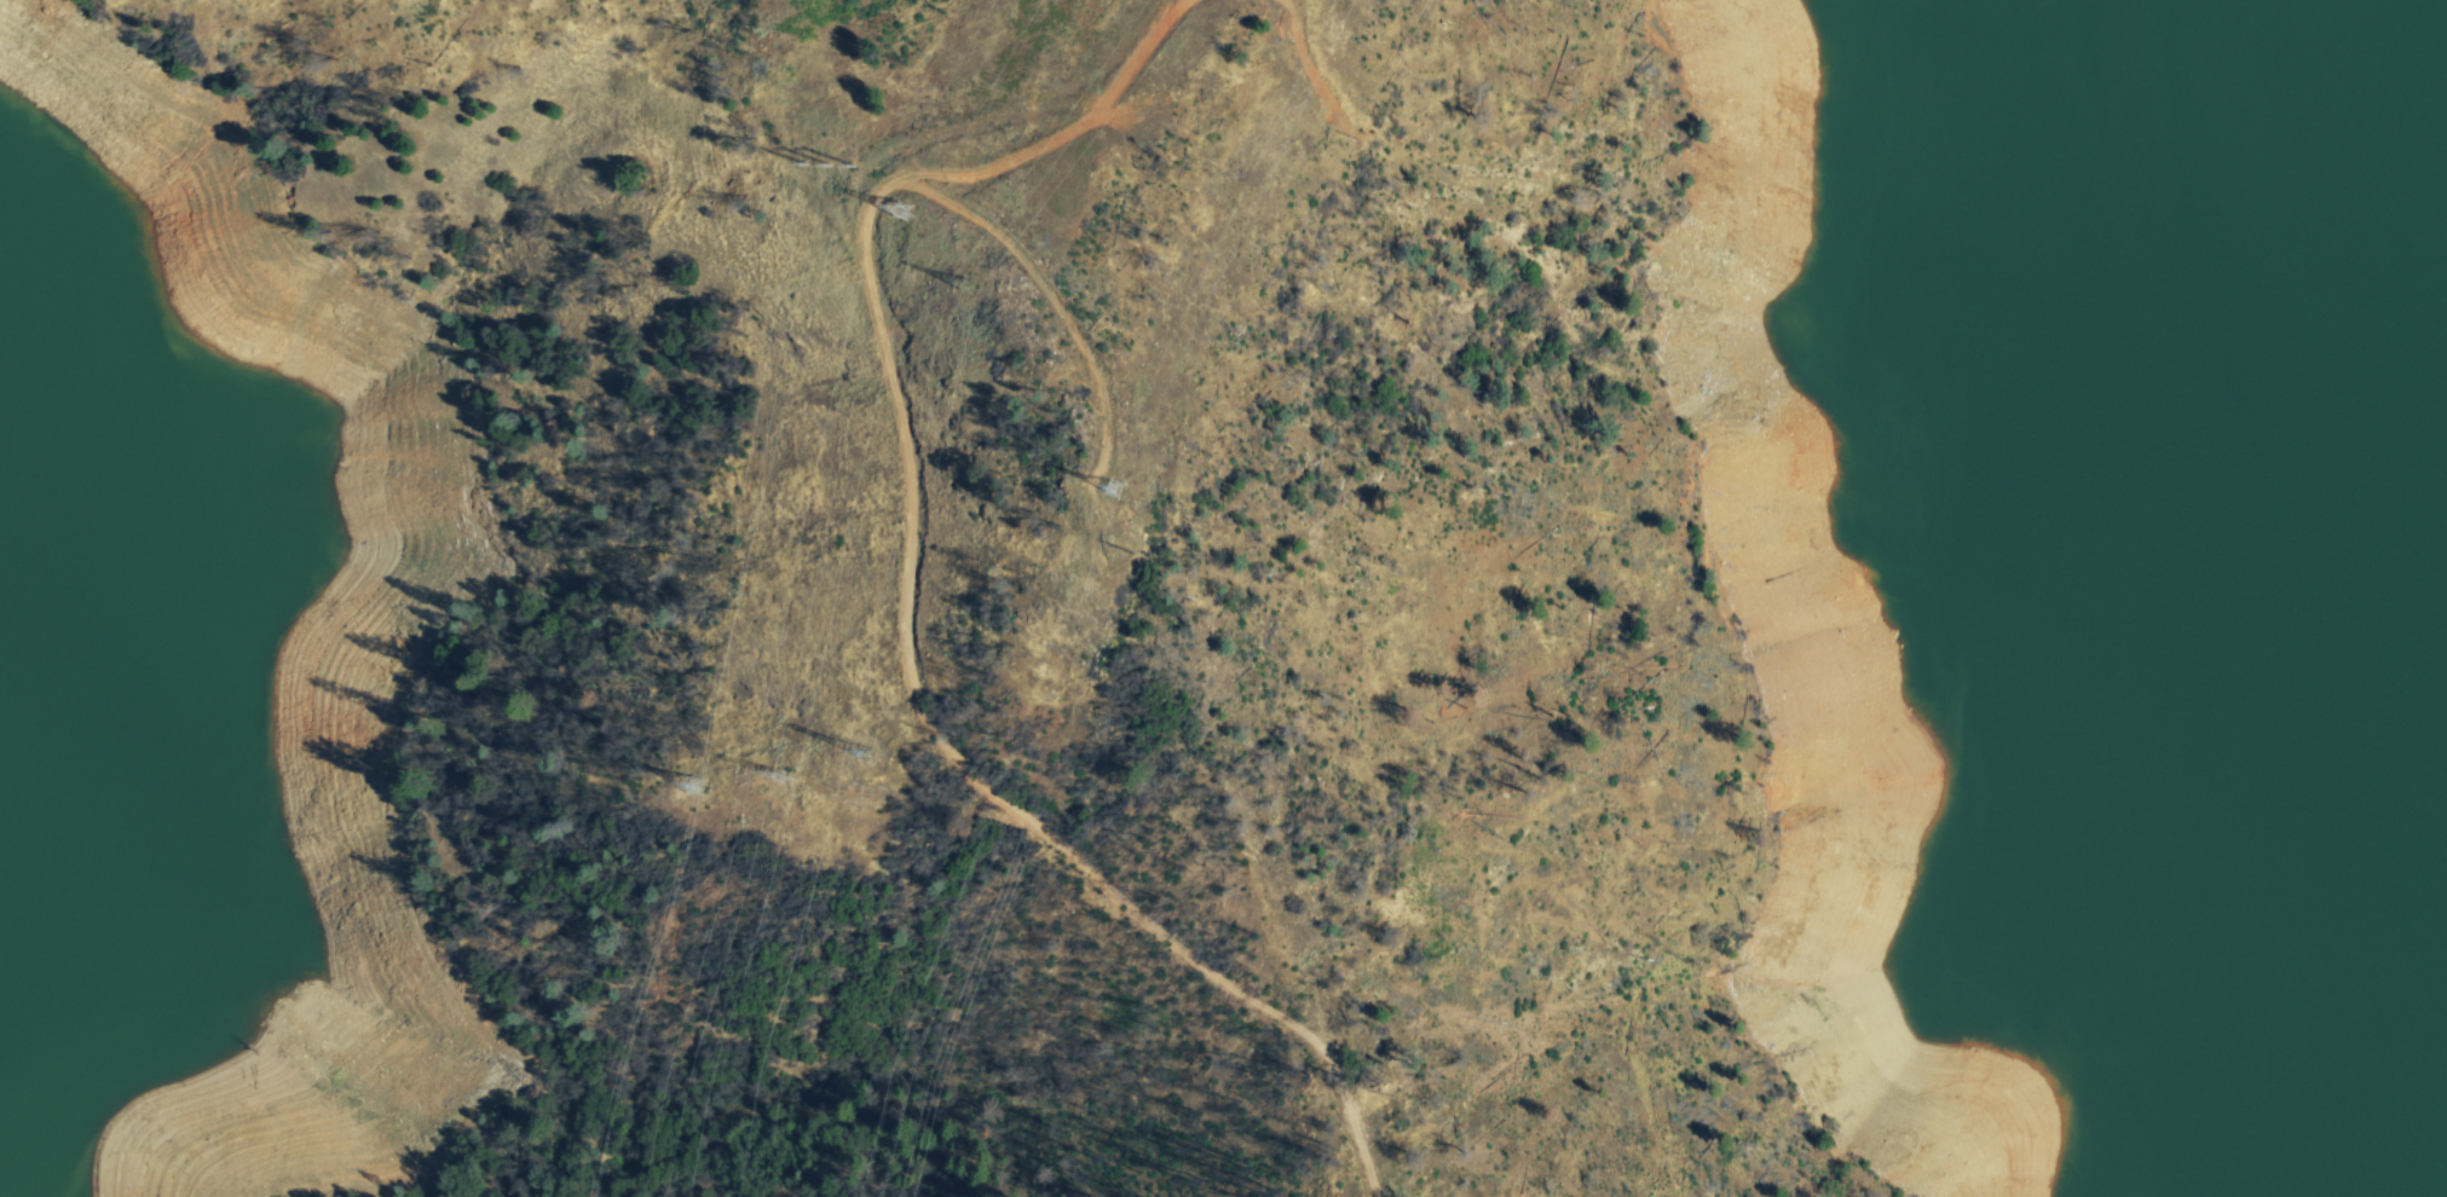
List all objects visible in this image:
river: (2431, 21)
power tower: (829, 163)
power tower: (927, 197)
power tower: (987, 273)
power tower: (1137, 478)
power tower: (882, 759)
power tower: (796, 771)
power tower: (697, 788)

